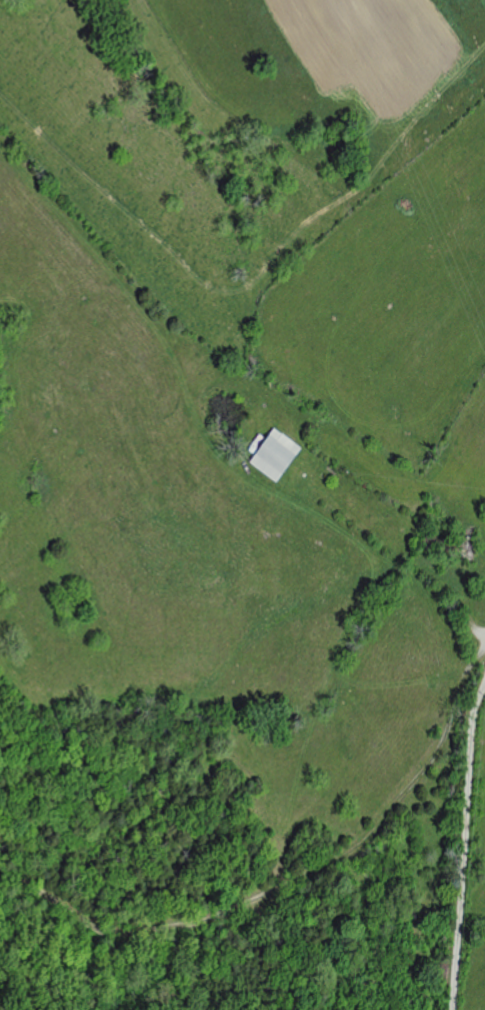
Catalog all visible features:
building: (279, 456)
road: (466, 846)

